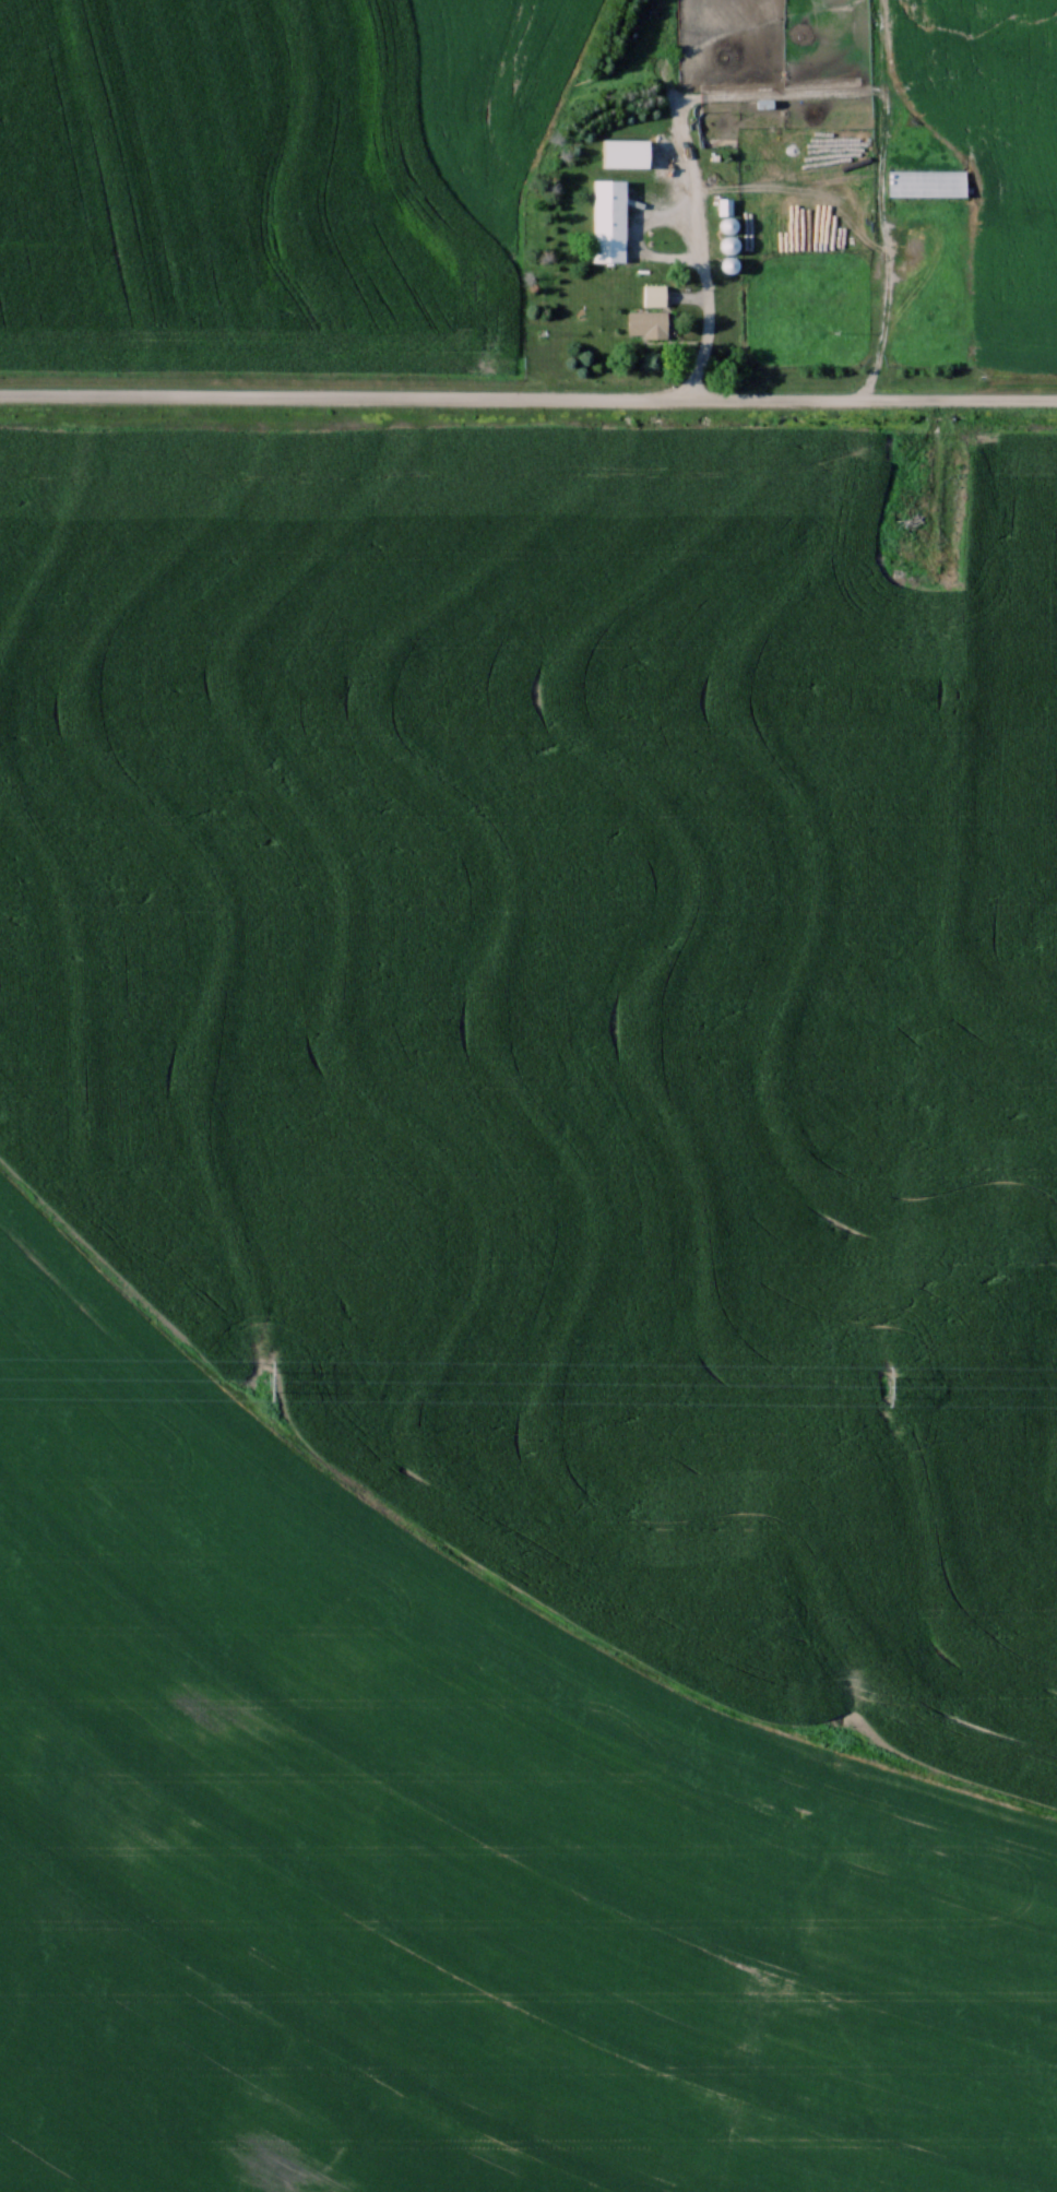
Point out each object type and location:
building: (622, 154)
building: (923, 180)
building: (603, 218)
building: (649, 293)
road: (890, 295)
building: (641, 322)
road: (527, 401)
road: (936, 455)
building: (906, 526)
road: (910, 552)
power tower: (273, 1379)
power tower: (881, 1383)

